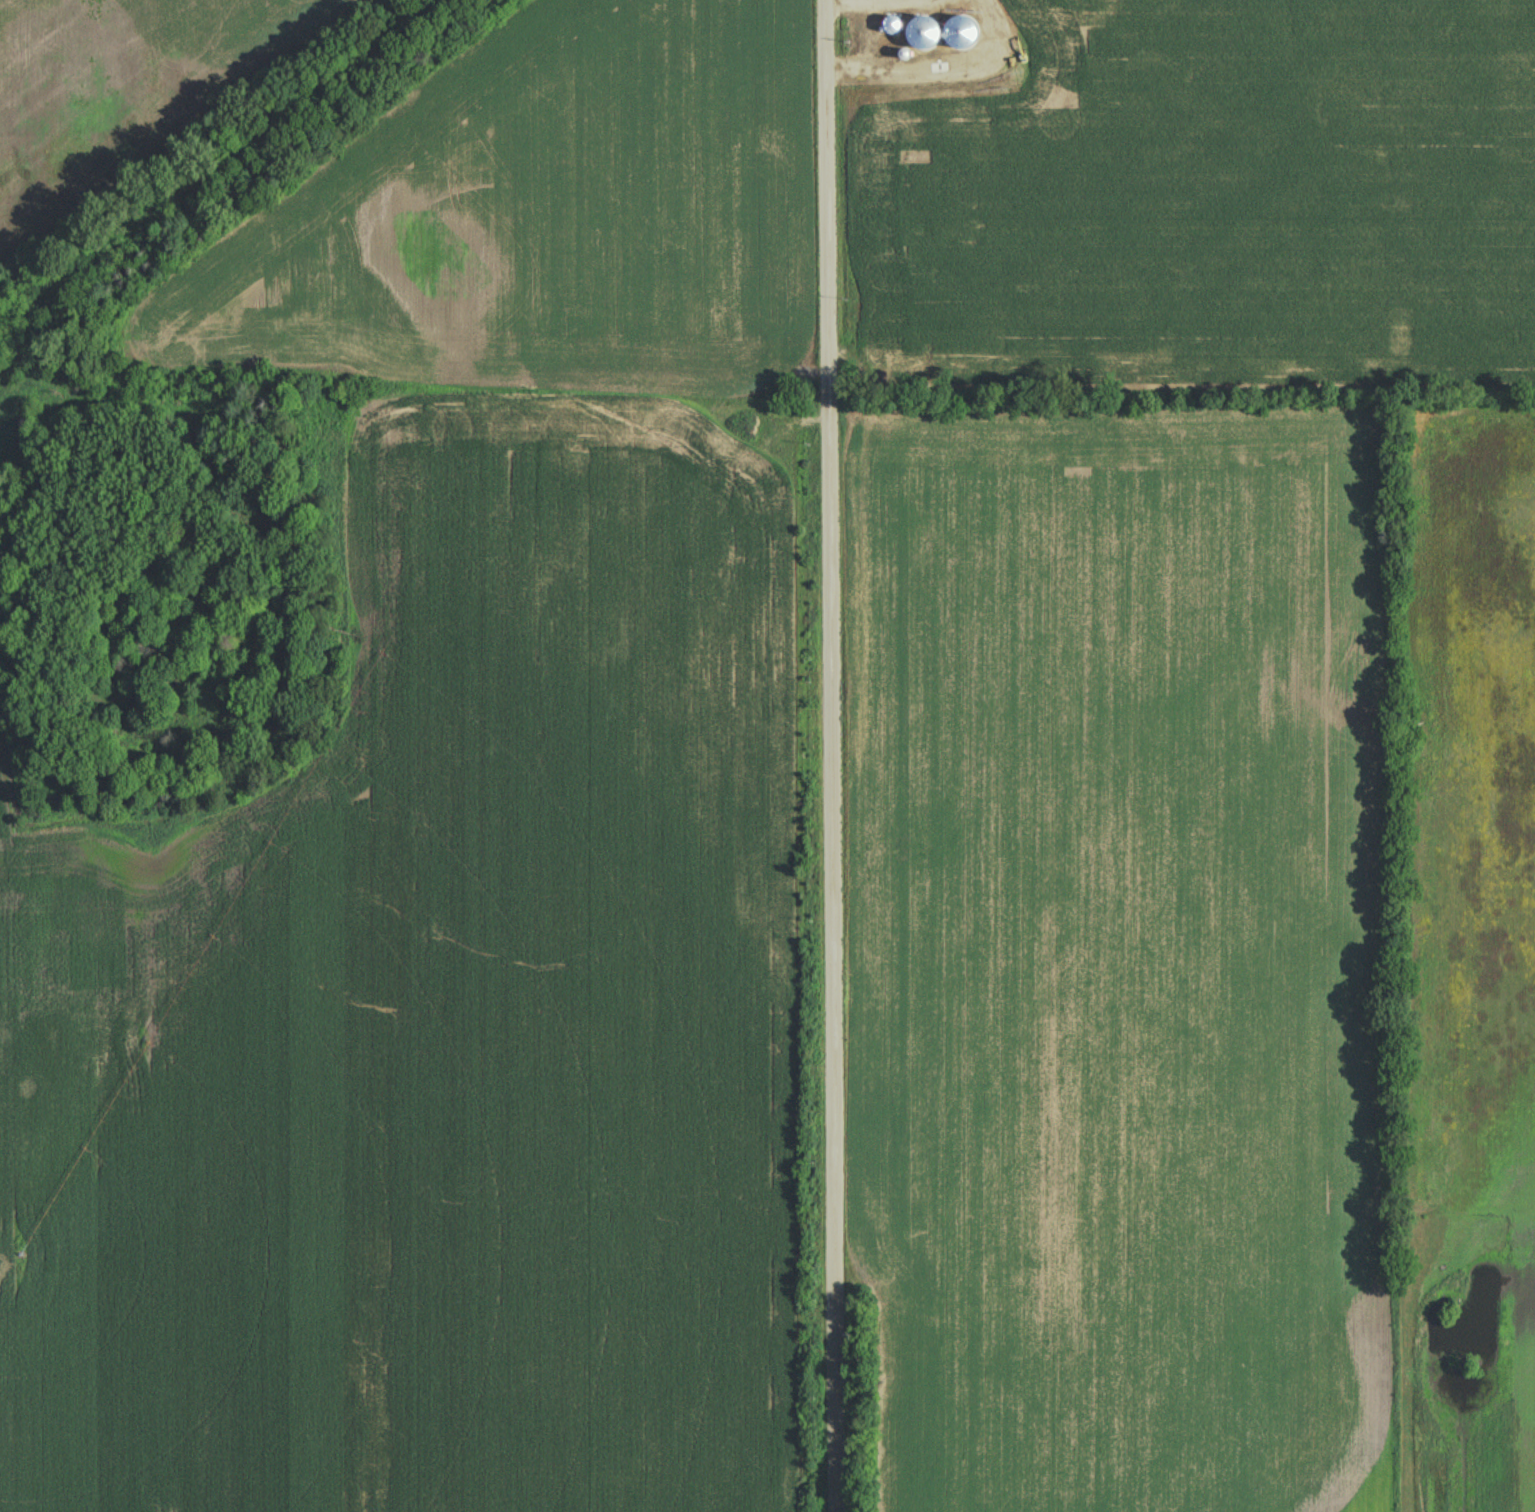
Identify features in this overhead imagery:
road: (823, 756)

